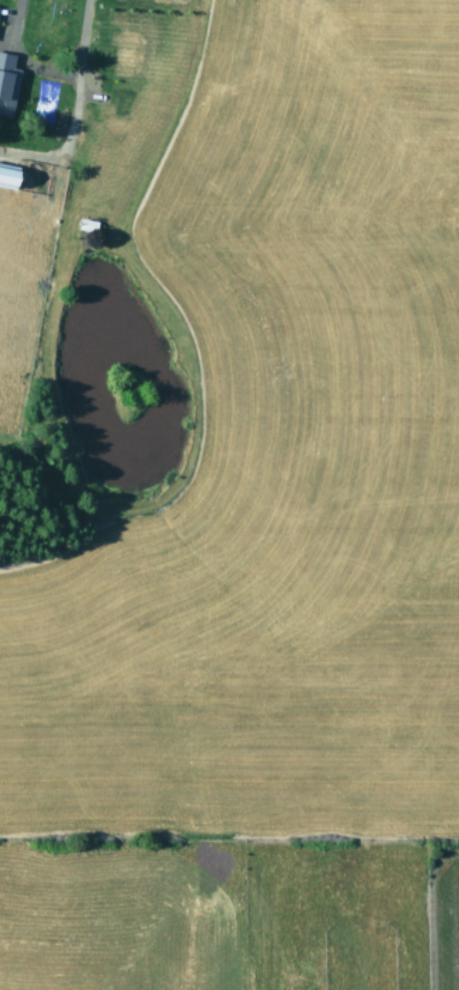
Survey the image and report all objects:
road: (54, 71)
building: (6, 82)
building: (5, 176)
crop: (229, 495)

